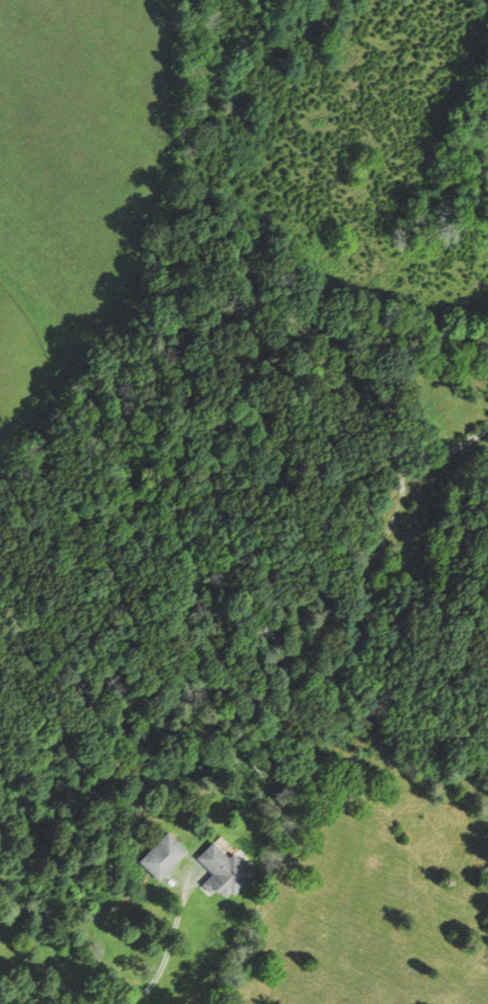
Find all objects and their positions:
road: (243, 477)
building: (159, 854)
building: (222, 871)
road: (168, 948)
road: (28, 994)

